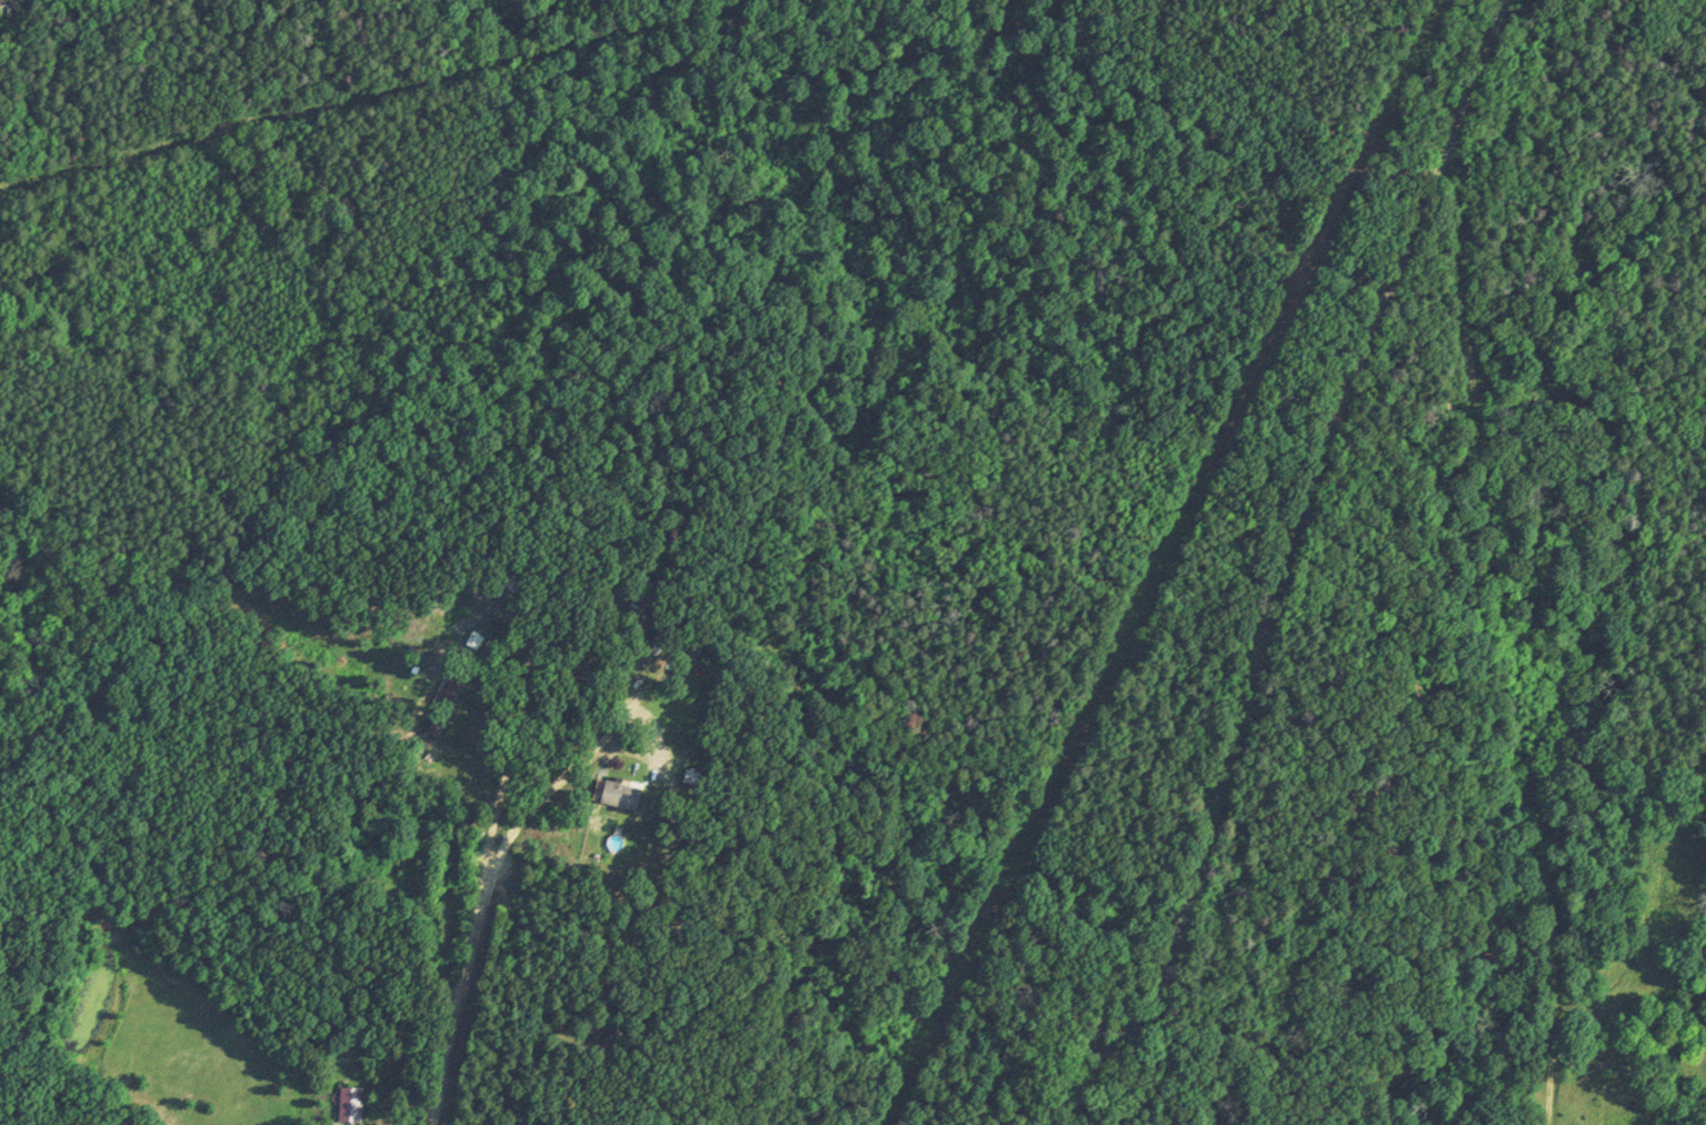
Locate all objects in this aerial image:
building: (620, 794)
road: (535, 804)
road: (478, 916)
building: (350, 1104)

